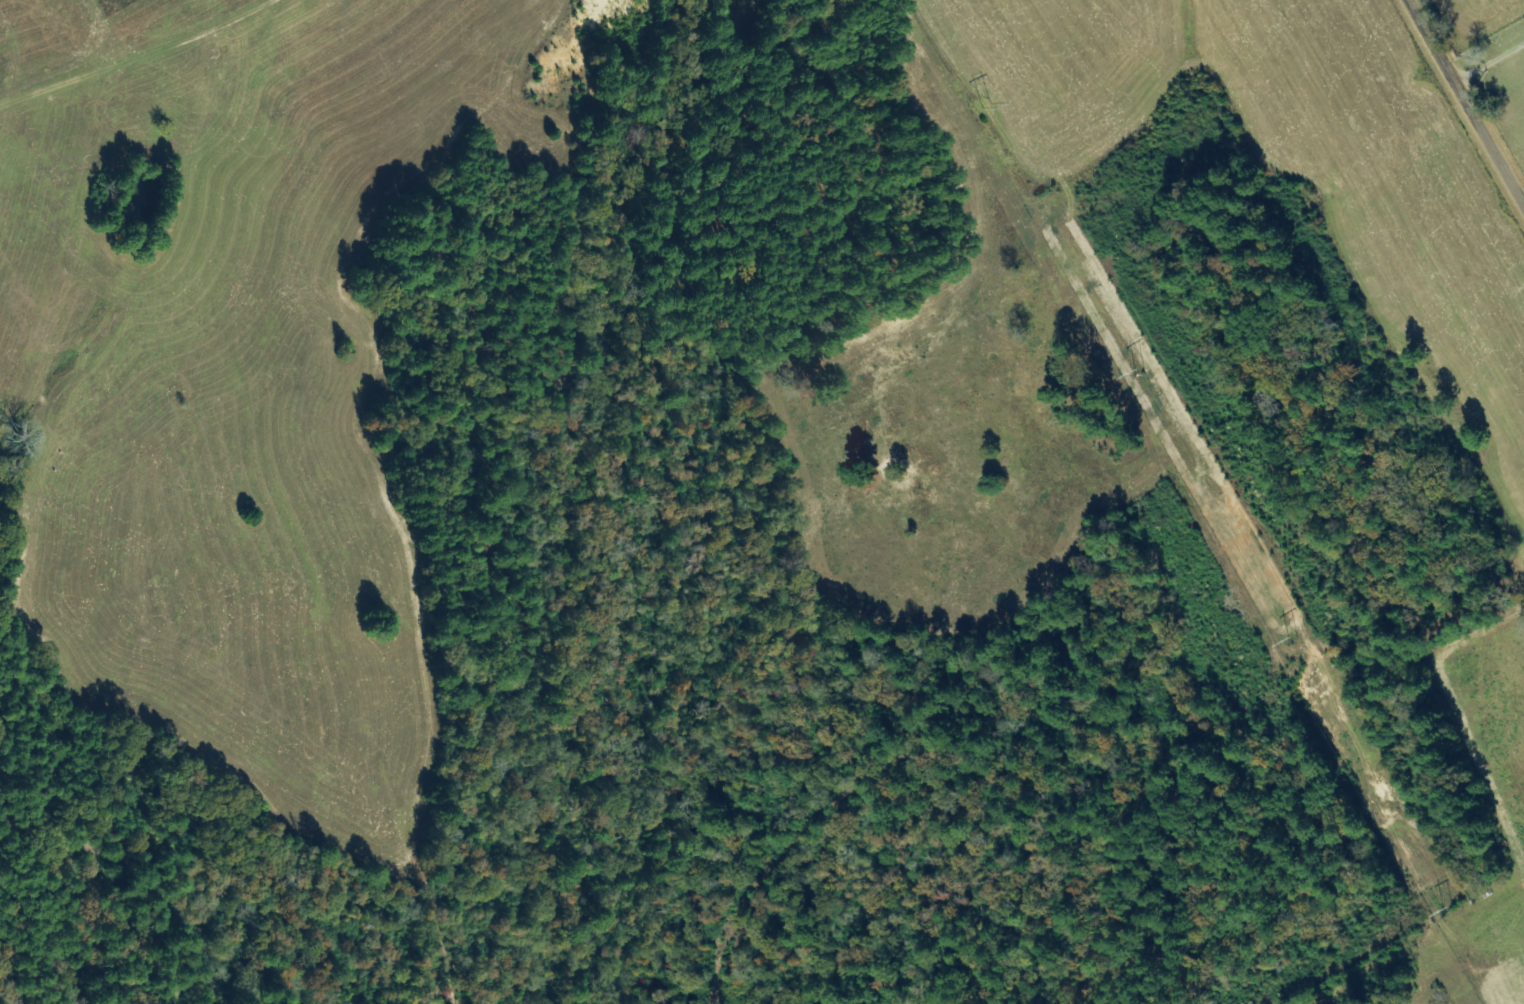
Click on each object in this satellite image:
road: (1465, 105)
power tower: (984, 108)
power tower: (1142, 371)
power tower: (1294, 640)
power tower: (1451, 910)

